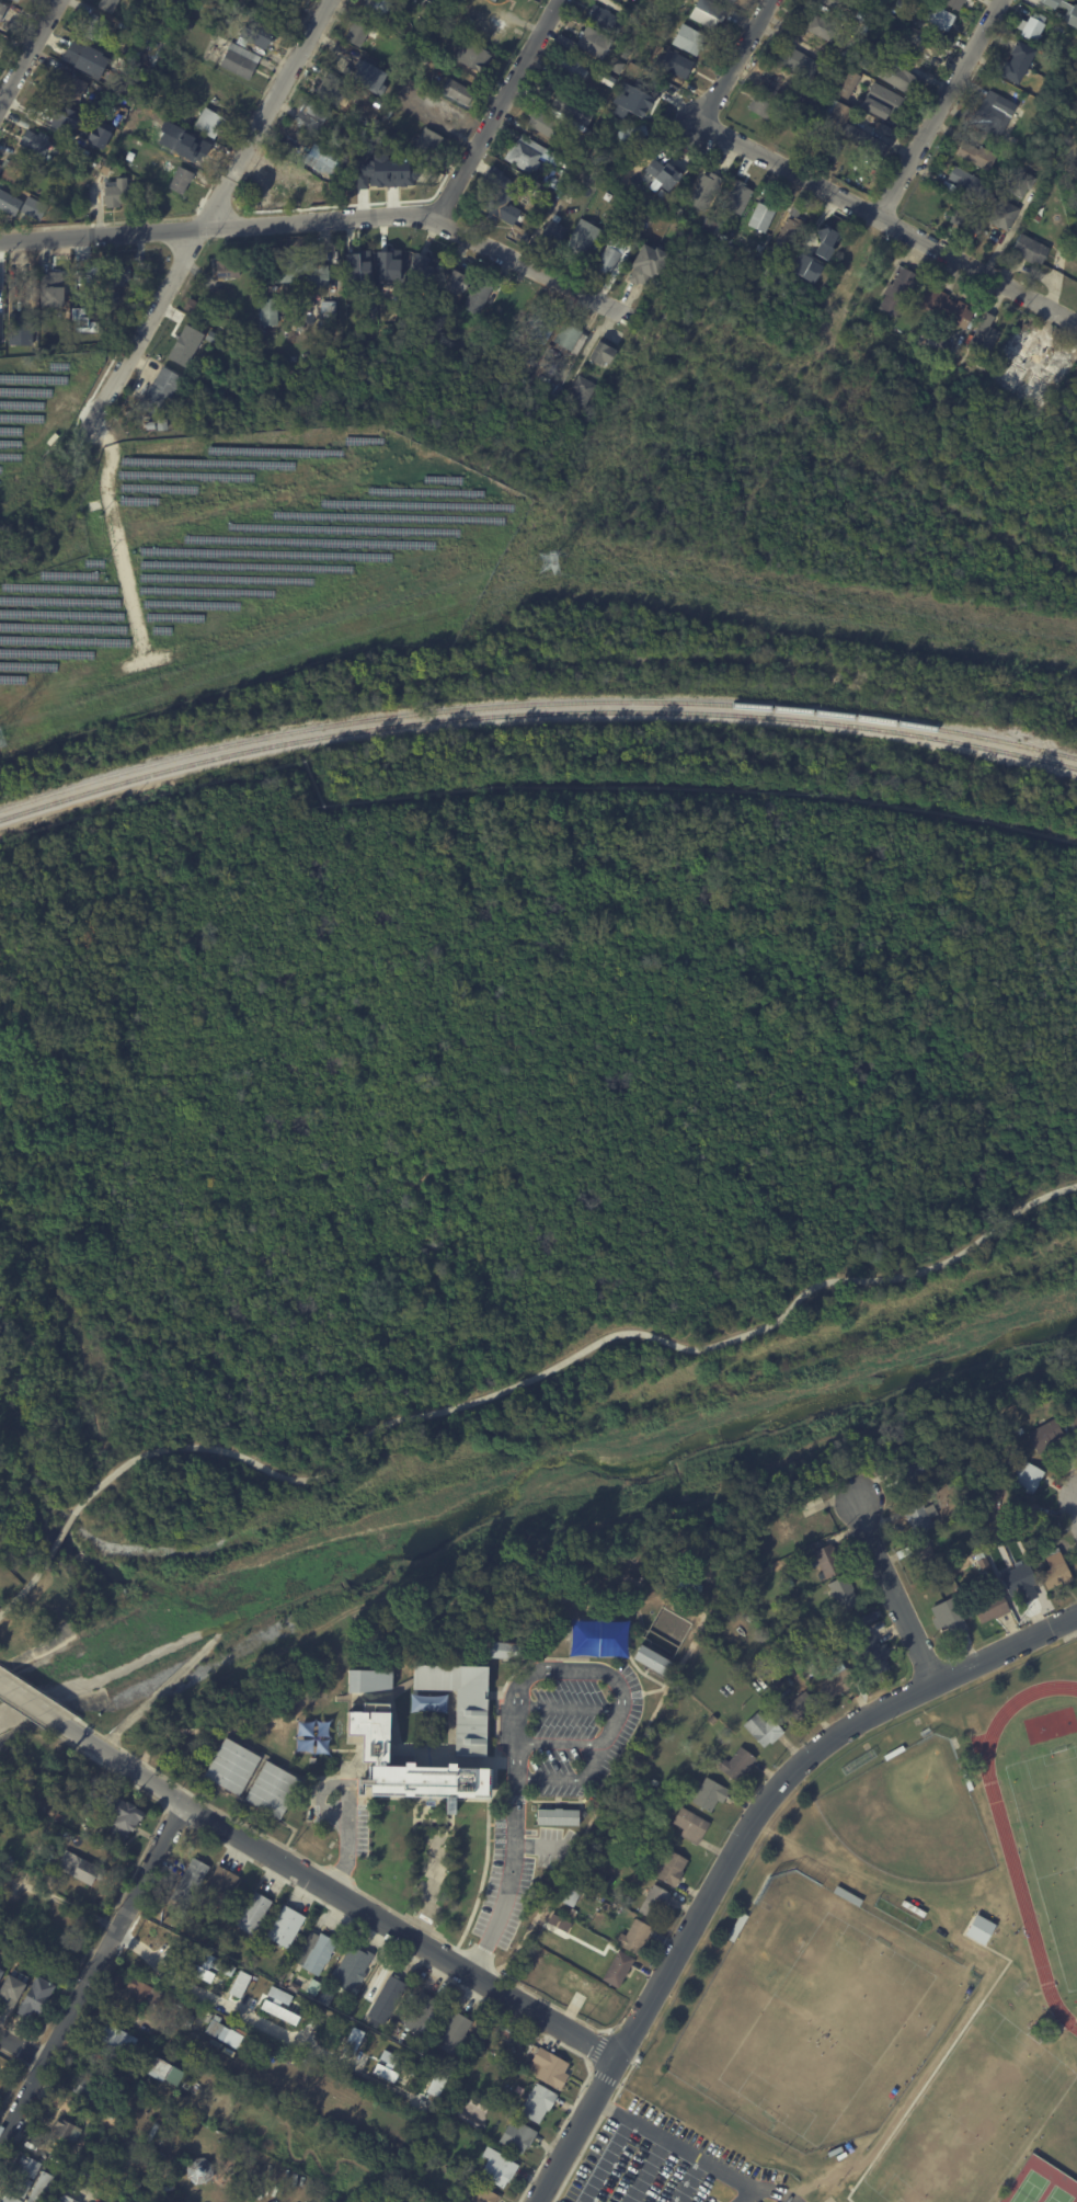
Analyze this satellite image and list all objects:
building: (18, 0)
building: (492, 0)
building: (494, 0)
building: (625, 0)
building: (730, 1)
building: (829, 2)
building: (877, 2)
building: (952, 4)
building: (1046, 4)
building: (110, 5)
building: (424, 8)
building: (375, 9)
building: (869, 10)
building: (1065, 11)
building: (448, 12)
building: (3, 13)
building: (706, 14)
building: (939, 18)
building: (603, 21)
building: (1032, 27)
building: (99, 28)
building: (821, 28)
building: (652, 31)
building: (261, 34)
building: (354, 34)
building: (76, 38)
building: (916, 38)
building: (688, 39)
building: (583, 41)
road: (28, 52)
building: (625, 55)
building: (868, 55)
building: (470, 56)
building: (82, 57)
road: (736, 58)
building: (241, 60)
building: (794, 62)
building: (1016, 64)
building: (676, 65)
building: (570, 70)
building: (821, 71)
building: (898, 77)
building: (393, 78)
building: (601, 78)
building: (368, 79)
building: (774, 82)
building: (847, 87)
building: (73, 89)
building: (456, 91)
building: (328, 92)
building: (640, 96)
building: (102, 101)
building: (170, 102)
building: (882, 103)
road: (503, 106)
road: (941, 107)
building: (571, 109)
building: (760, 109)
building: (798, 109)
building: (96, 111)
building: (444, 111)
road: (265, 113)
building: (990, 114)
building: (311, 116)
building: (65, 117)
building: (213, 123)
building: (541, 125)
building: (848, 127)
building: (882, 129)
building: (631, 134)
building: (98, 136)
building: (290, 136)
building: (39, 145)
building: (68, 146)
building: (426, 146)
building: (825, 148)
building: (196, 149)
building: (77, 156)
building: (131, 157)
building: (976, 157)
building: (524, 158)
building: (593, 158)
building: (626, 158)
building: (110, 168)
building: (2, 170)
building: (662, 171)
building: (399, 172)
building: (16, 173)
building: (303, 176)
building: (183, 181)
building: (553, 184)
building: (967, 184)
building: (1020, 184)
building: (703, 191)
building: (122, 194)
building: (735, 198)
building: (497, 202)
building: (23, 206)
building: (988, 207)
building: (676, 212)
road: (431, 213)
building: (761, 216)
building: (1002, 216)
building: (729, 218)
road: (891, 219)
building: (966, 221)
building: (791, 228)
building: (641, 231)
building: (553, 232)
road: (101, 233)
building: (581, 238)
building: (824, 240)
building: (1029, 250)
building: (609, 256)
building: (765, 258)
building: (646, 264)
building: (391, 265)
building: (358, 266)
building: (422, 266)
building: (226, 270)
building: (301, 272)
building: (794, 272)
building: (123, 276)
building: (451, 284)
building: (51, 288)
building: (897, 292)
building: (476, 297)
building: (190, 307)
building: (944, 308)
building: (267, 312)
building: (326, 313)
road: (149, 319)
building: (434, 322)
building: (539, 326)
building: (3, 330)
building: (25, 330)
building: (983, 338)
building: (569, 339)
building: (931, 343)
building: (600, 354)
building: (1027, 354)
building: (163, 391)
building: (581, 391)
building: (1021, 395)
solar farm: (38, 408)
building: (164, 424)
power tower: (546, 562)
solar farm: (243, 570)
railway: (535, 703)
railway: (535, 711)
road: (64, 1314)
road: (569, 1355)
building: (1074, 1424)
building: (1044, 1436)
building: (935, 1459)
building: (951, 1472)
building: (908, 1475)
building: (1026, 1477)
road: (1076, 1496)
building: (1021, 1515)
building: (917, 1516)
road: (60, 1534)
building: (1030, 1543)
building: (960, 1553)
building: (921, 1558)
building: (827, 1560)
building: (983, 1564)
building: (1053, 1567)
building: (14, 1577)
building: (1018, 1579)
building: (789, 1583)
road: (24, 1587)
building: (843, 1593)
road: (893, 1594)
building: (672, 1601)
building: (990, 1608)
building: (951, 1616)
building: (823, 1618)
building: (837, 1628)
road: (1069, 1635)
building: (504, 1650)
building: (871, 1652)
building: (652, 1659)
building: (837, 1680)
building: (365, 1681)
road: (36, 1692)
building: (428, 1703)
road: (31, 1704)
building: (460, 1704)
building: (797, 1708)
road: (569, 1709)
road: (24, 1712)
building: (712, 1720)
road: (515, 1725)
building: (761, 1730)
parking lot: (562, 1732)
road: (559, 1745)
building: (893, 1752)
building: (736, 1765)
building: (230, 1767)
road: (788, 1776)
road: (549, 1778)
building: (965, 1780)
building: (425, 1783)
building: (653, 1783)
building: (12, 1788)
building: (272, 1791)
road: (170, 1794)
building: (709, 1795)
road: (196, 1796)
building: (84, 1803)
building: (49, 1811)
park: (910, 1815)
building: (57, 1816)
road: (176, 1816)
building: (558, 1817)
building: (123, 1818)
building: (689, 1825)
park: (1053, 1838)
road: (346, 1840)
parking lot: (499, 1862)
building: (81, 1869)
building: (669, 1869)
road: (339, 1874)
building: (979, 1876)
building: (188, 1879)
road: (127, 1881)
track: (1017, 1881)
building: (217, 1885)
building: (597, 1885)
road: (336, 1894)
building: (570, 1895)
building: (848, 1895)
building: (653, 1903)
building: (603, 1907)
building: (914, 1907)
building: (252, 1912)
road: (975, 1913)
road: (412, 1921)
building: (558, 1921)
building: (284, 1925)
building: (736, 1927)
building: (978, 1928)
building: (632, 1938)
road: (483, 1948)
building: (584, 1949)
building: (317, 1953)
road: (157, 1956)
building: (351, 1965)
building: (617, 1970)
building: (2, 1972)
road: (91, 1972)
building: (200, 1975)
road: (456, 1983)
building: (291, 1985)
building: (13, 1989)
building: (140, 1992)
building: (198, 1993)
building: (278, 1995)
building: (38, 1997)
road: (541, 1998)
track: (1075, 1999)
building: (383, 2000)
building: (344, 2007)
park: (1075, 2007)
building: (270, 2008)
building: (488, 2011)
building: (419, 2012)
park: (815, 2016)
building: (287, 2020)
building: (211, 2028)
building: (507, 2028)
building: (452, 2032)
building: (116, 2039)
building: (352, 2040)
building: (247, 2044)
road: (22, 2047)
building: (179, 2050)
road: (26, 2052)
building: (638, 2057)
building: (199, 2058)
building: (439, 2061)
building: (455, 2065)
road: (589, 2066)
building: (549, 2067)
road: (935, 2068)
building: (160, 2070)
road: (18, 2075)
building: (282, 2075)
building: (185, 2083)
building: (436, 2083)
building: (84, 2090)
building: (536, 2102)
building: (114, 2104)
building: (310, 2113)
park: (972, 2117)
road: (24, 2121)
building: (65, 2130)
road: (575, 2130)
road: (592, 2132)
building: (156, 2136)
building: (437, 2136)
building: (516, 2136)
road: (674, 2144)
building: (43, 2154)
road: (605, 2160)
parking lot: (660, 2165)
building: (496, 2167)
building: (200, 2169)
road: (646, 2170)
building: (230, 2171)
building: (24, 2175)
road: (688, 2180)
building: (70, 2184)
building: (38, 2187)
park: (1029, 2188)
road: (777, 2192)
road: (749, 2194)
building: (482, 2195)
park: (1057, 2195)
building: (289, 2197)
building: (8, 2199)
building: (64, 2199)
building: (181, 2199)

